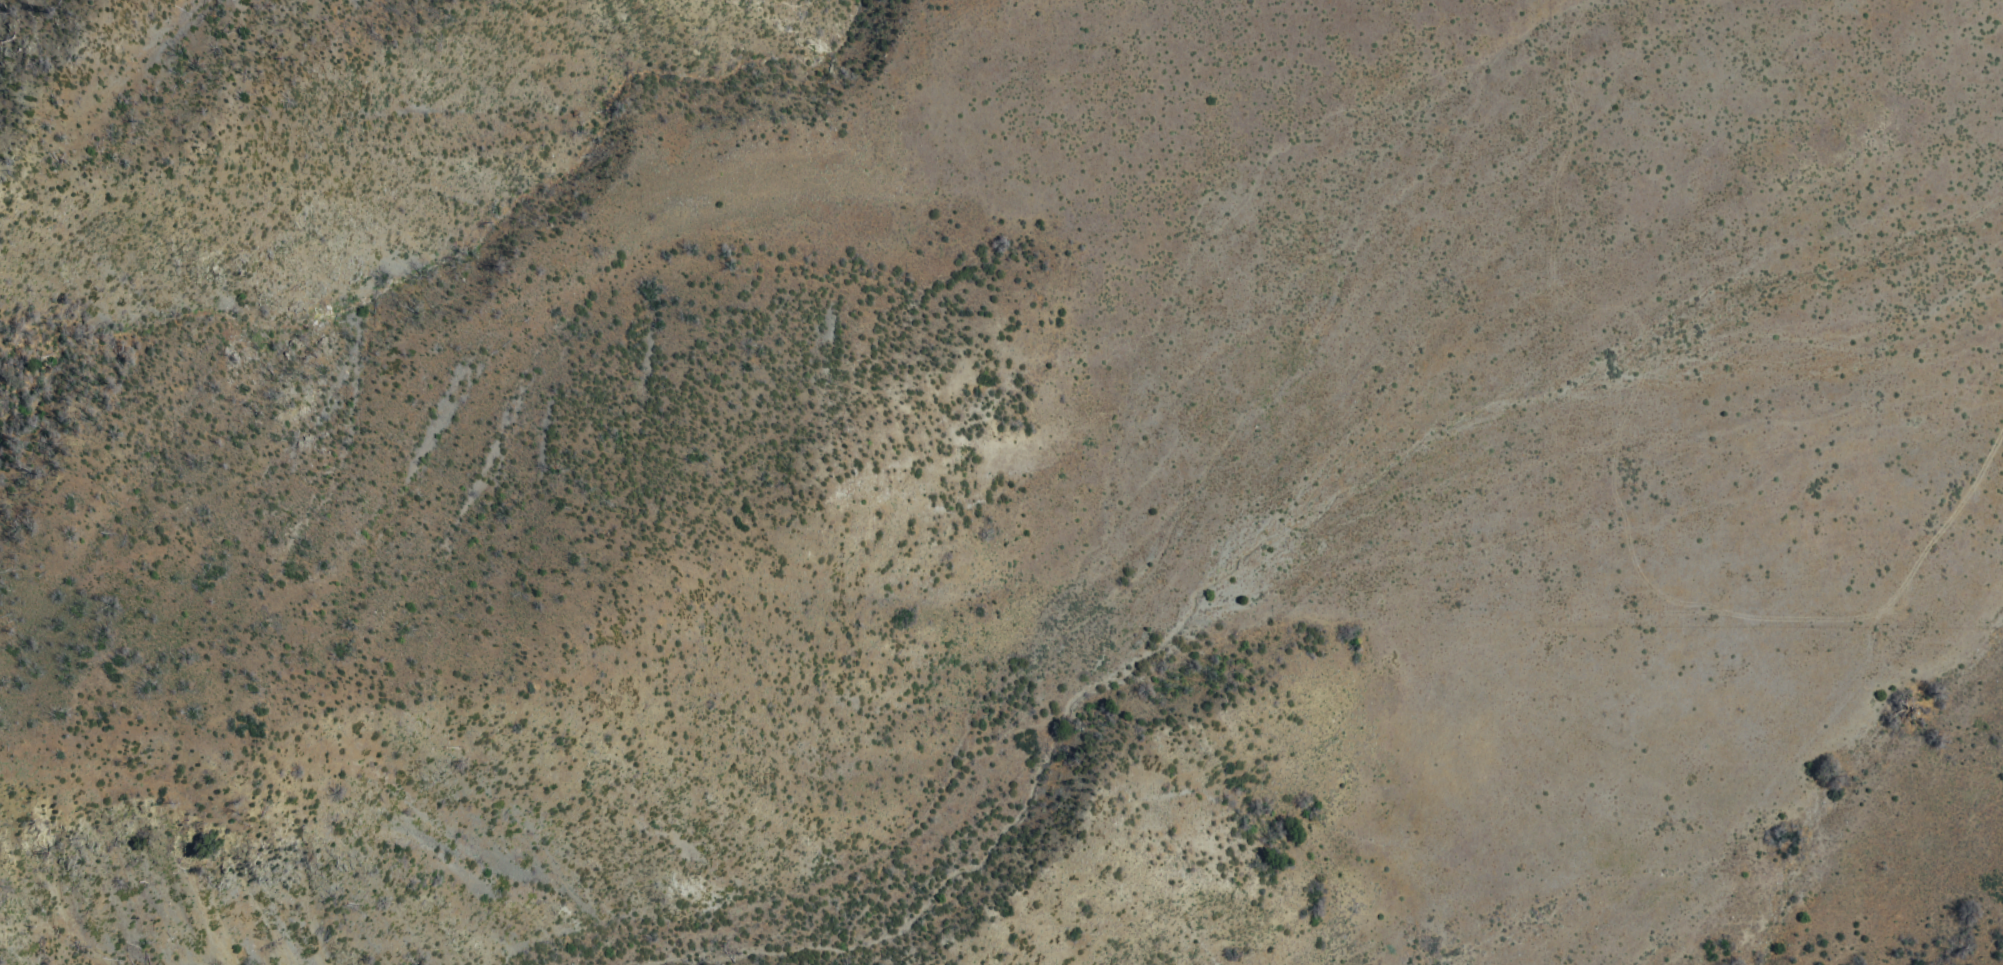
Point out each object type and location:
road: (1657, 616)

